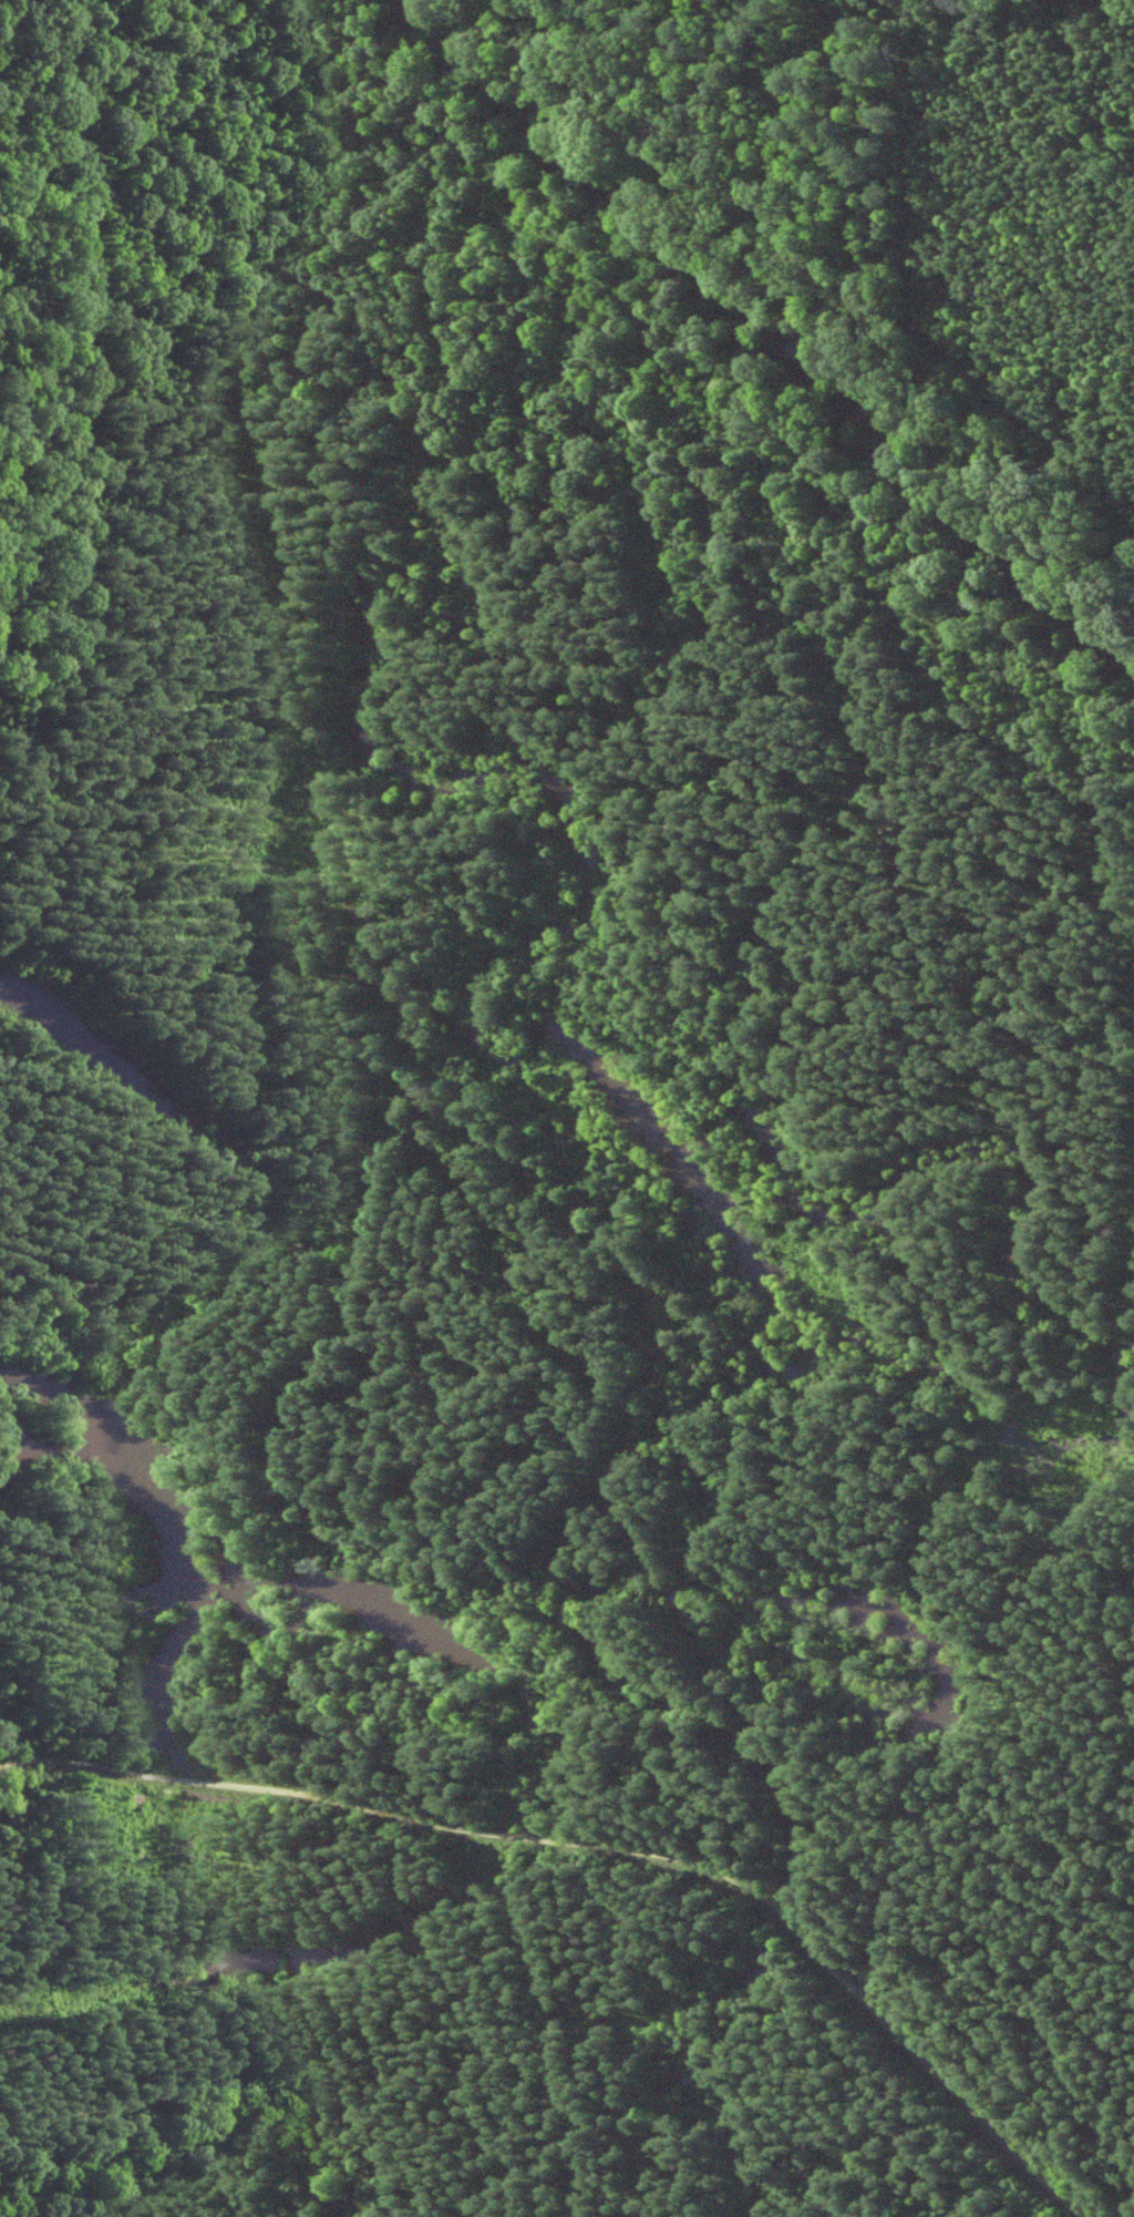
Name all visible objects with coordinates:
road: (621, 1837)

